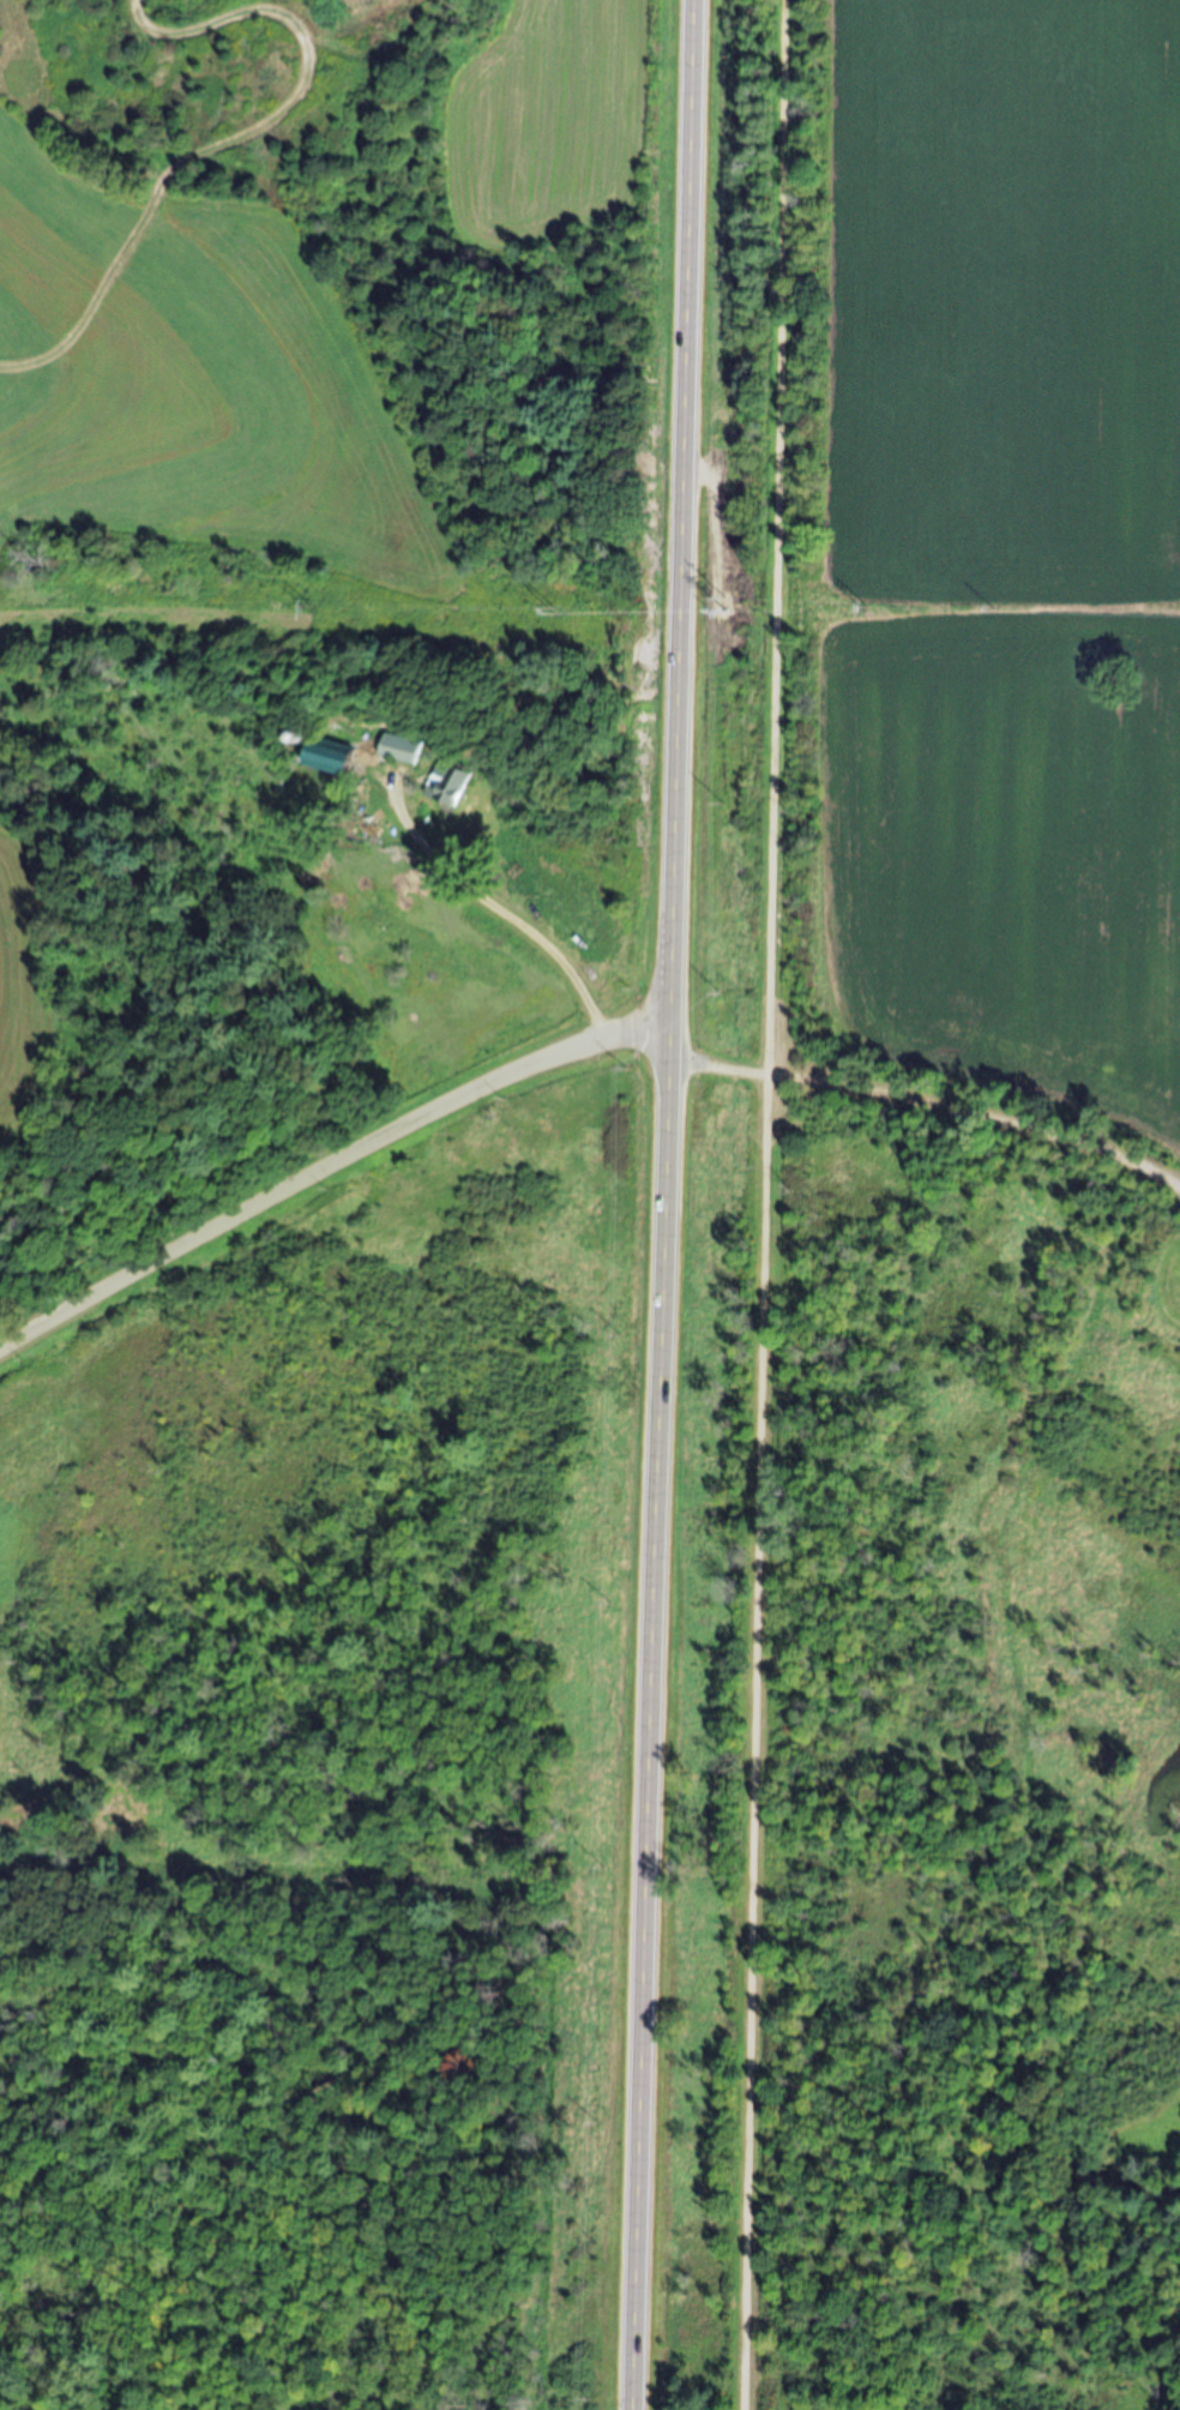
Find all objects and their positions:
building: (398, 749)
building: (327, 755)
building: (446, 785)
road: (923, 1106)
road: (326, 1167)
road: (666, 1204)
road: (767, 1204)

